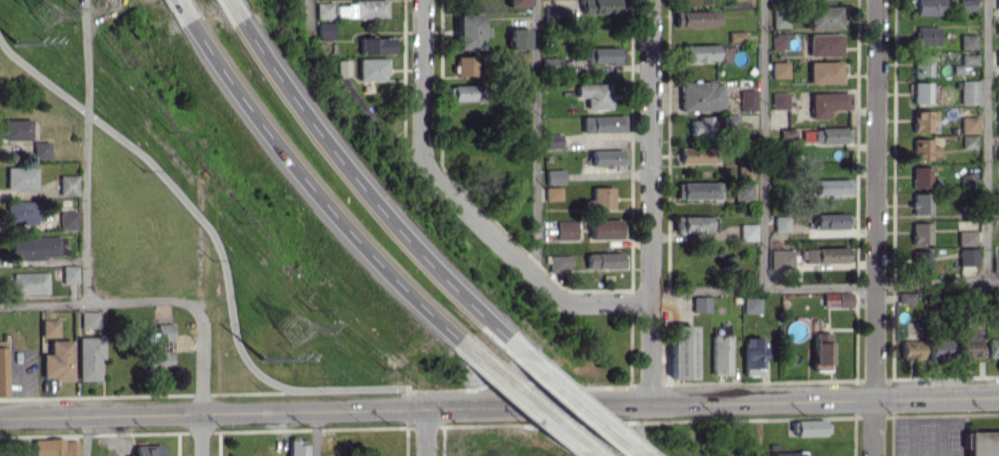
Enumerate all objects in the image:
building: (521, 2)
building: (998, 3)
road: (181, 4)
road: (232, 4)
building: (967, 5)
building: (602, 6)
building: (929, 7)
building: (365, 9)
building: (329, 10)
building: (556, 13)
power tower: (47, 14)
building: (826, 17)
building: (699, 18)
building: (782, 18)
building: (998, 28)
building: (330, 31)
building: (473, 31)
building: (739, 36)
building: (928, 36)
building: (521, 38)
building: (780, 41)
building: (969, 41)
power tower: (19, 44)
building: (826, 44)
building: (380, 45)
building: (701, 52)
building: (606, 54)
building: (998, 58)
building: (970, 59)
building: (469, 65)
building: (924, 65)
building: (347, 67)
building: (377, 69)
building: (781, 69)
building: (826, 72)
road: (358, 82)
building: (466, 92)
building: (923, 92)
building: (970, 92)
building: (597, 95)
building: (702, 96)
building: (749, 99)
building: (781, 100)
building: (829, 103)
building: (998, 114)
building: (925, 120)
building: (606, 123)
building: (971, 124)
building: (705, 127)
building: (20, 129)
building: (789, 135)
building: (809, 135)
building: (833, 135)
road: (538, 138)
building: (555, 140)
building: (971, 141)
road: (989, 141)
road: (766, 144)
building: (45, 149)
building: (927, 149)
road: (91, 151)
building: (701, 155)
building: (610, 157)
building: (747, 172)
building: (558, 176)
building: (924, 176)
building: (24, 178)
building: (970, 180)
building: (72, 184)
building: (834, 186)
road: (315, 189)
road: (365, 189)
building: (699, 190)
building: (746, 191)
building: (556, 193)
building: (605, 197)
road: (653, 201)
building: (923, 203)
road: (471, 204)
building: (998, 205)
building: (24, 212)
building: (72, 219)
building: (833, 221)
building: (784, 223)
building: (697, 224)
road: (878, 227)
building: (569, 229)
building: (608, 229)
building: (750, 232)
building: (924, 232)
building: (969, 236)
road: (223, 244)
building: (39, 247)
building: (827, 254)
building: (971, 257)
building: (783, 259)
building: (607, 260)
building: (924, 261)
building: (564, 263)
building: (997, 263)
building: (73, 273)
building: (33, 283)
road: (826, 285)
building: (910, 296)
building: (840, 299)
road: (105, 302)
building: (704, 303)
building: (755, 304)
building: (93, 319)
building: (53, 327)
power tower: (300, 329)
building: (166, 333)
building: (973, 343)
building: (944, 346)
building: (995, 347)
building: (825, 348)
building: (916, 349)
building: (685, 352)
building: (724, 354)
building: (756, 355)
building: (92, 357)
building: (162, 359)
power tower: (268, 359)
building: (60, 361)
building: (4, 372)
road: (203, 385)
road: (714, 400)
road: (530, 404)
road: (579, 404)
road: (420, 407)
road: (205, 411)
building: (813, 427)
road: (429, 431)
road: (316, 432)
road: (89, 435)
building: (985, 444)
building: (57, 447)
building: (301, 447)
building: (150, 450)
building: (793, 453)

